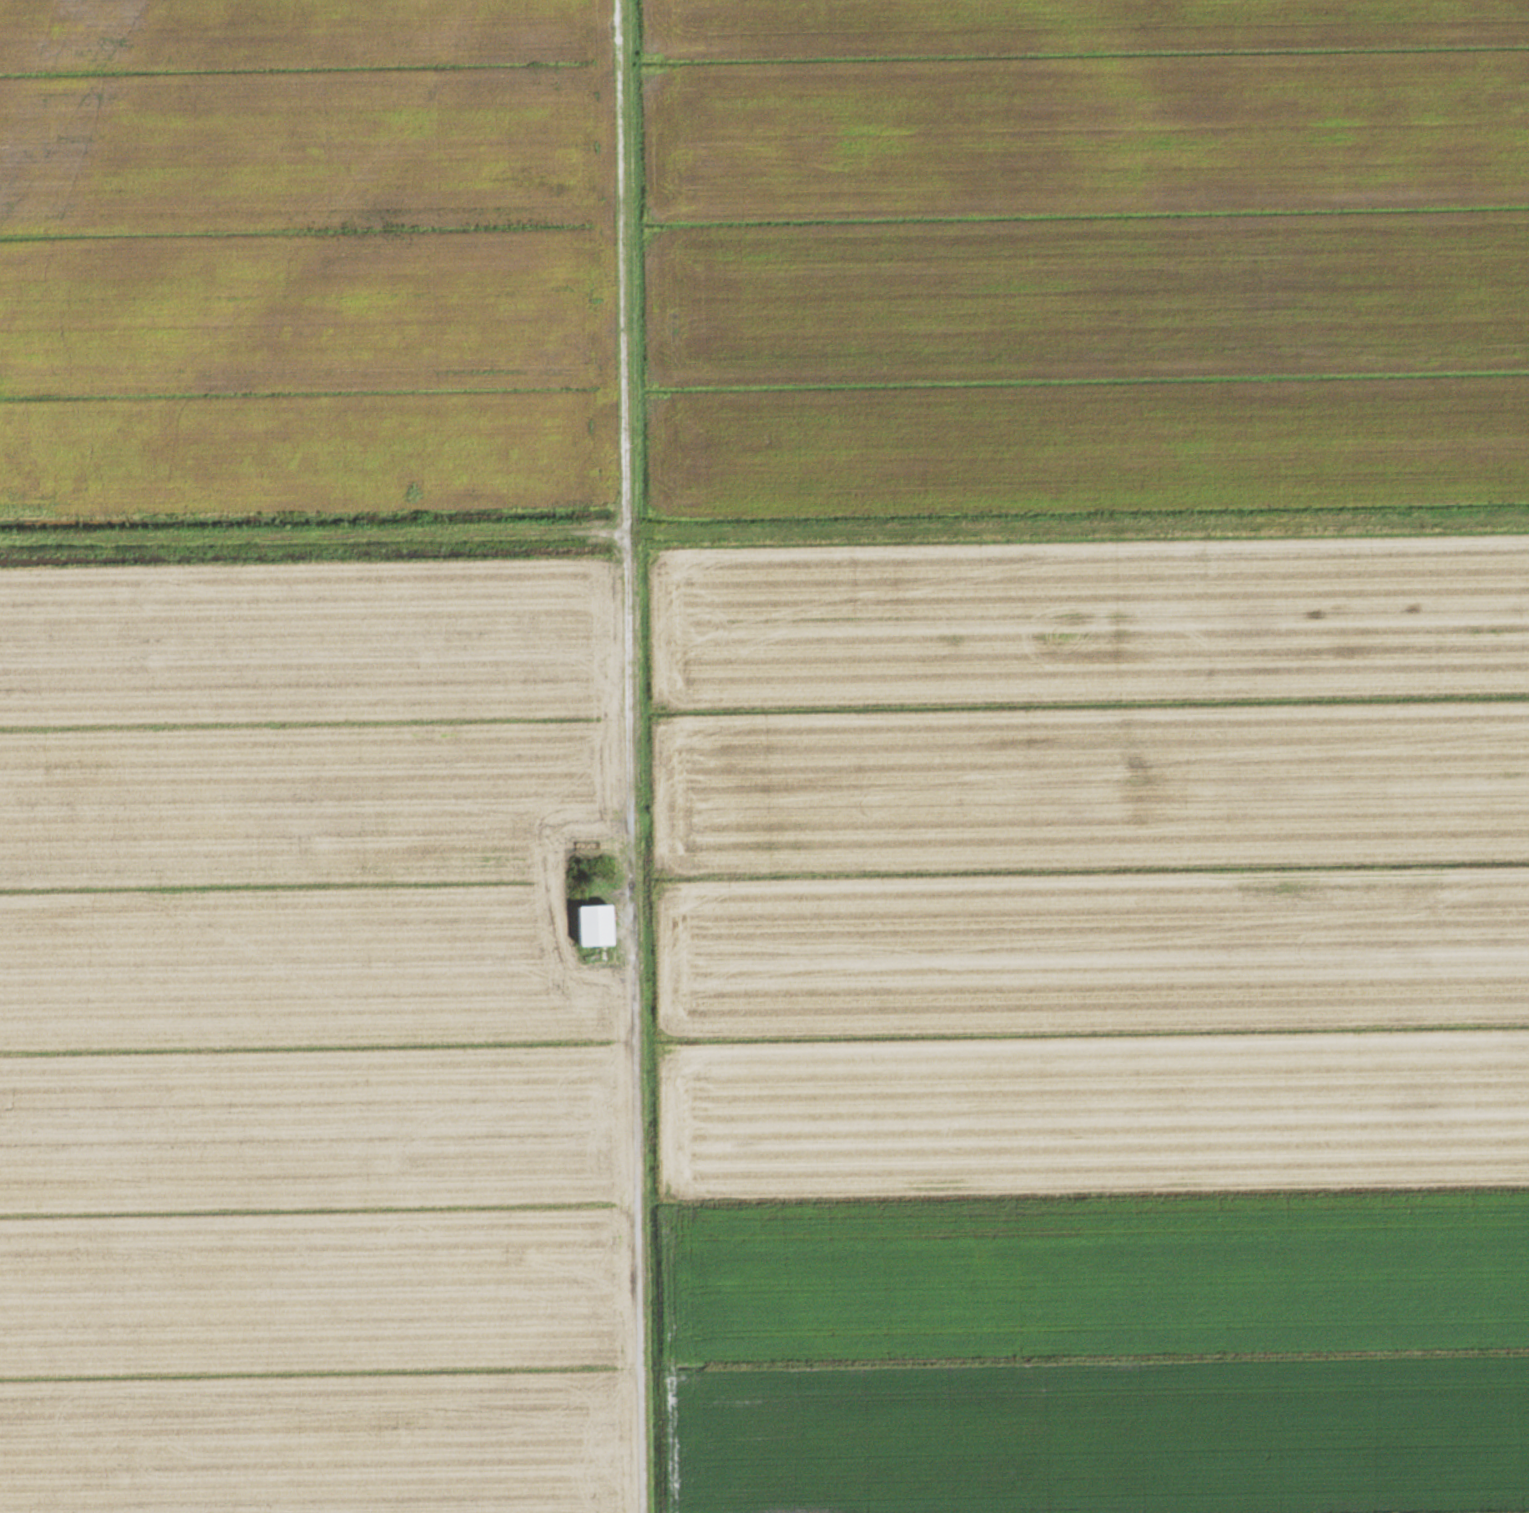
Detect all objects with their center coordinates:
crop: (1085, 254)
crop: (308, 256)

